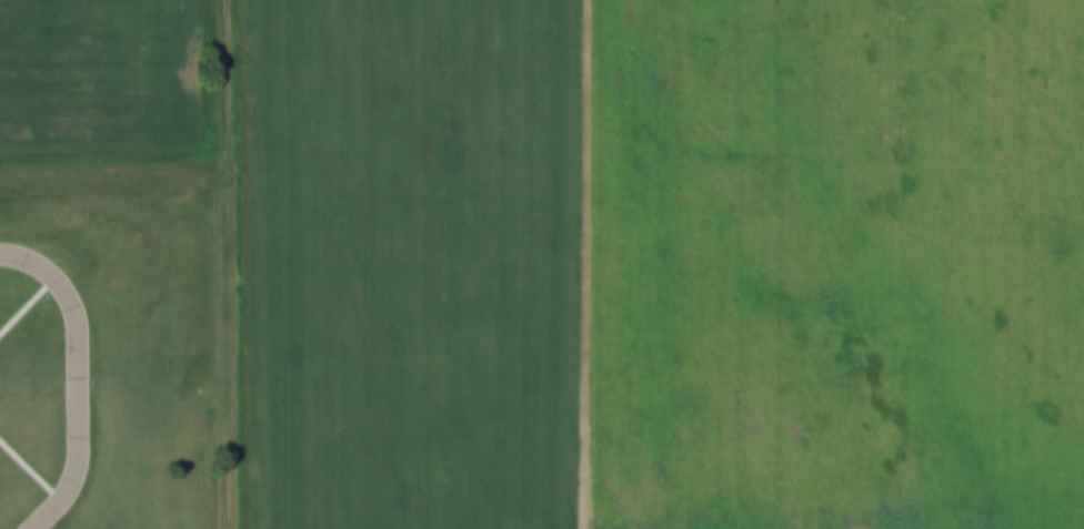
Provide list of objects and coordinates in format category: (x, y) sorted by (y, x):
road: (233, 264)
road: (27, 304)
park: (104, 343)
road: (77, 377)
road: (30, 469)

